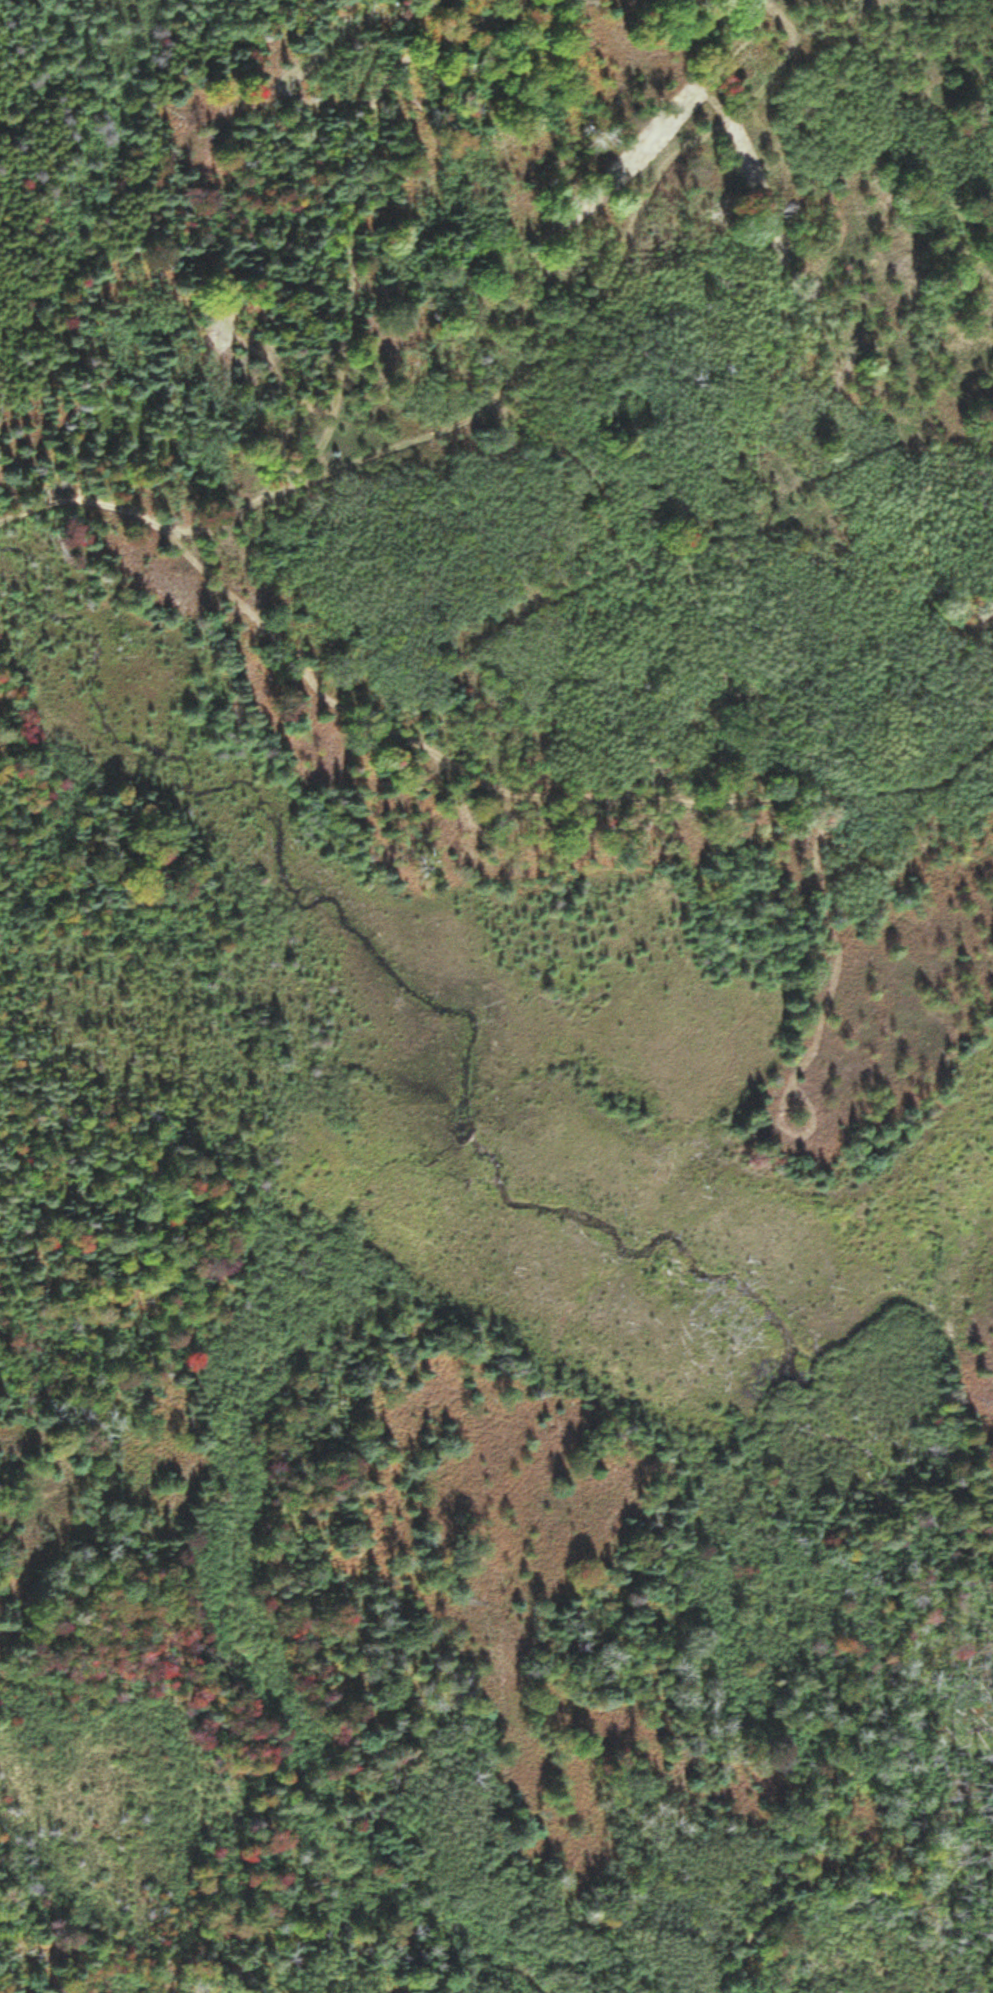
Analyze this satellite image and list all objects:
road: (598, 272)
road: (337, 392)
road: (988, 1525)
park: (566, 1587)
road: (858, 1760)

